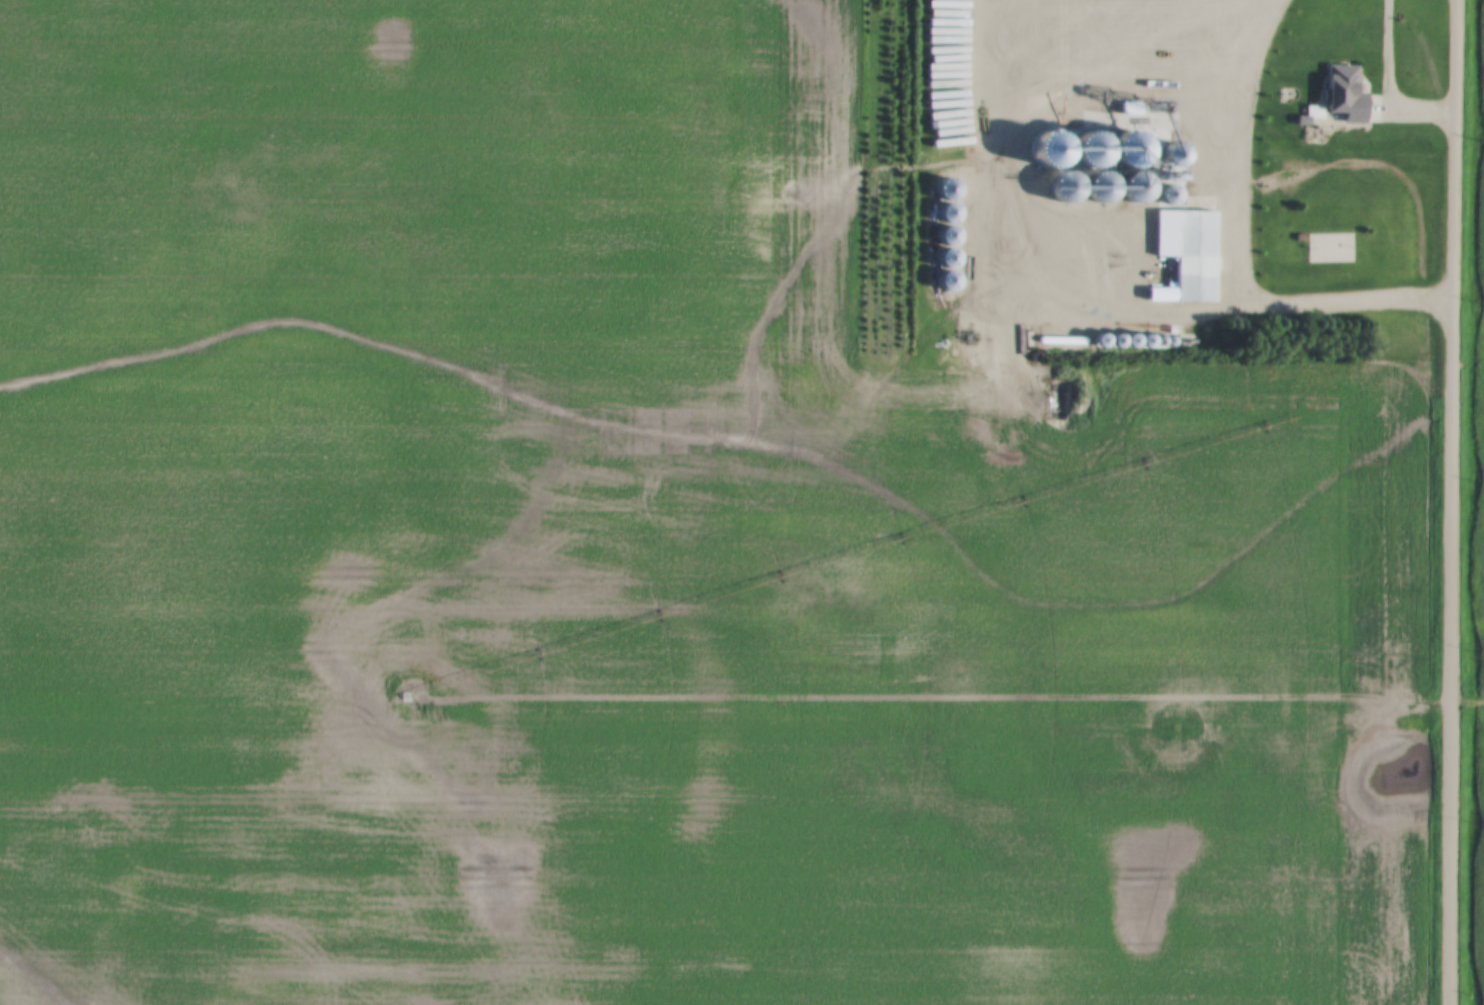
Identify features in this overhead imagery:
building: (1348, 94)
road: (1382, 119)
building: (1329, 248)
road: (1239, 249)
road: (1451, 502)

